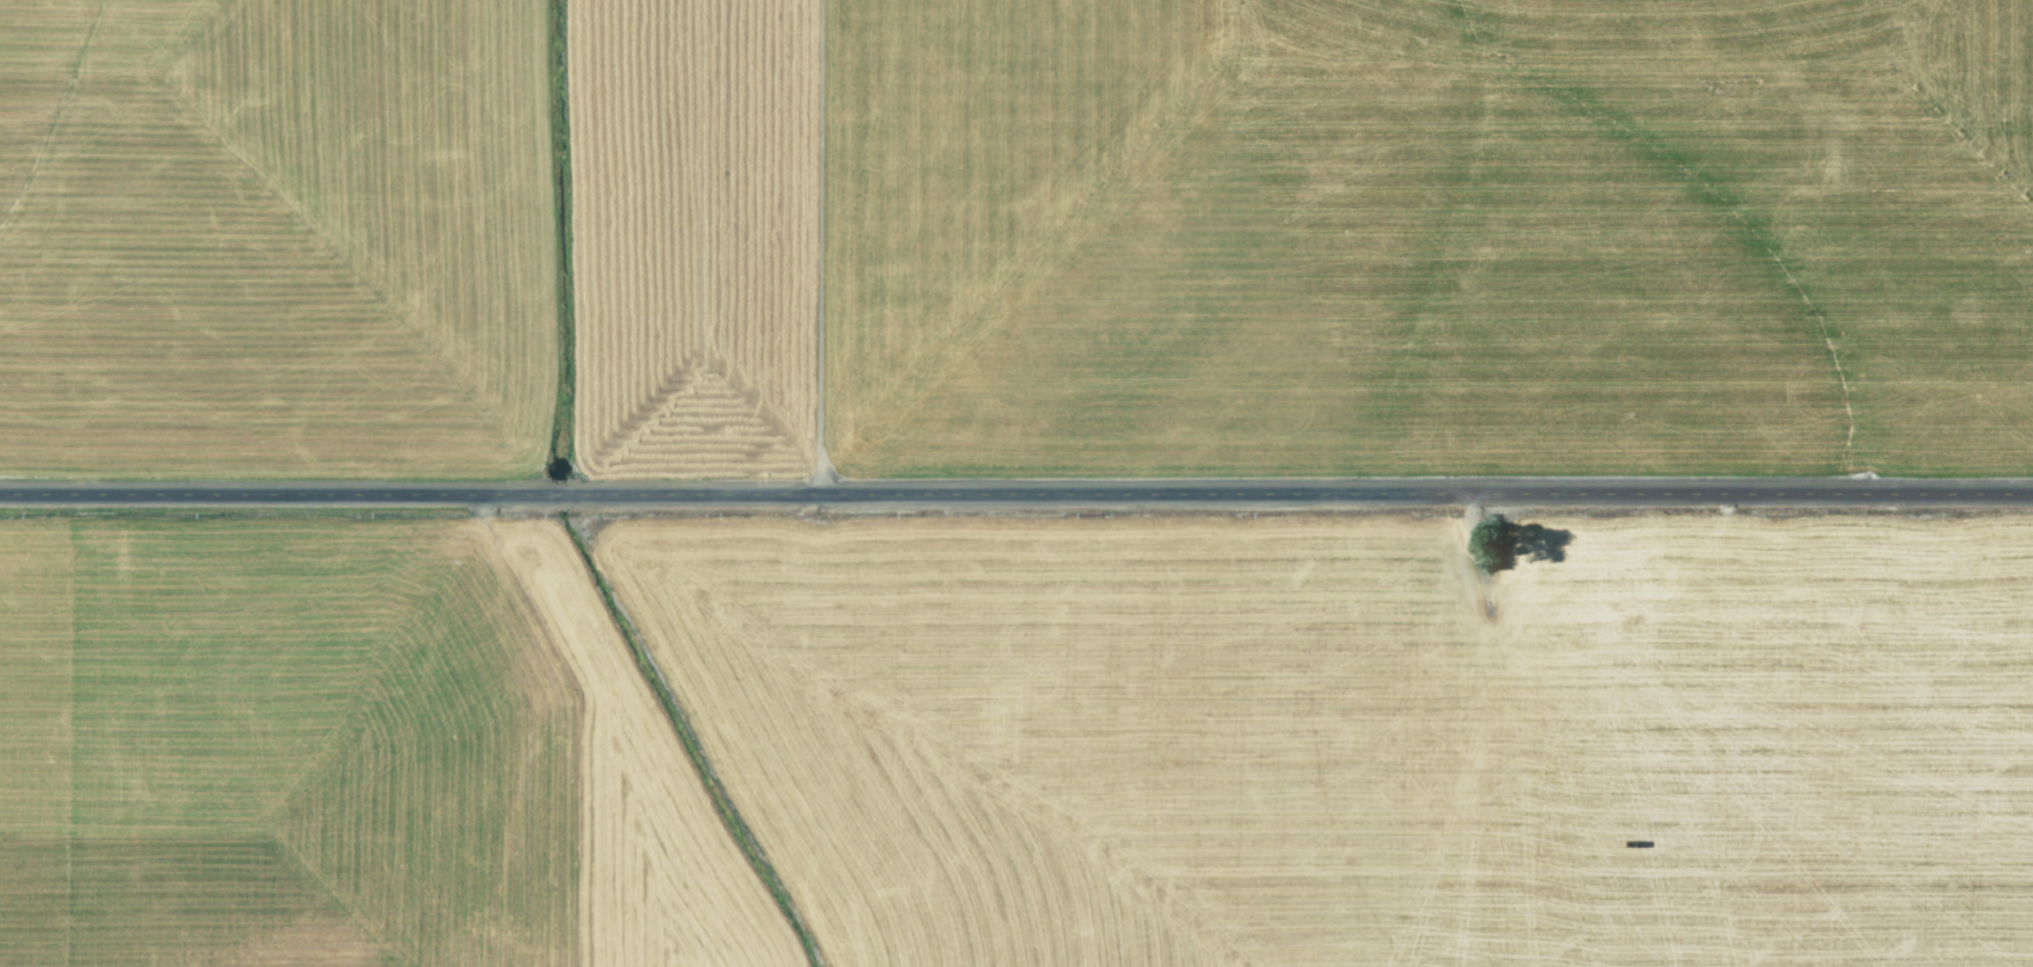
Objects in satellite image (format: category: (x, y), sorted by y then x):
crop: (1016, 483)
road: (1016, 488)

